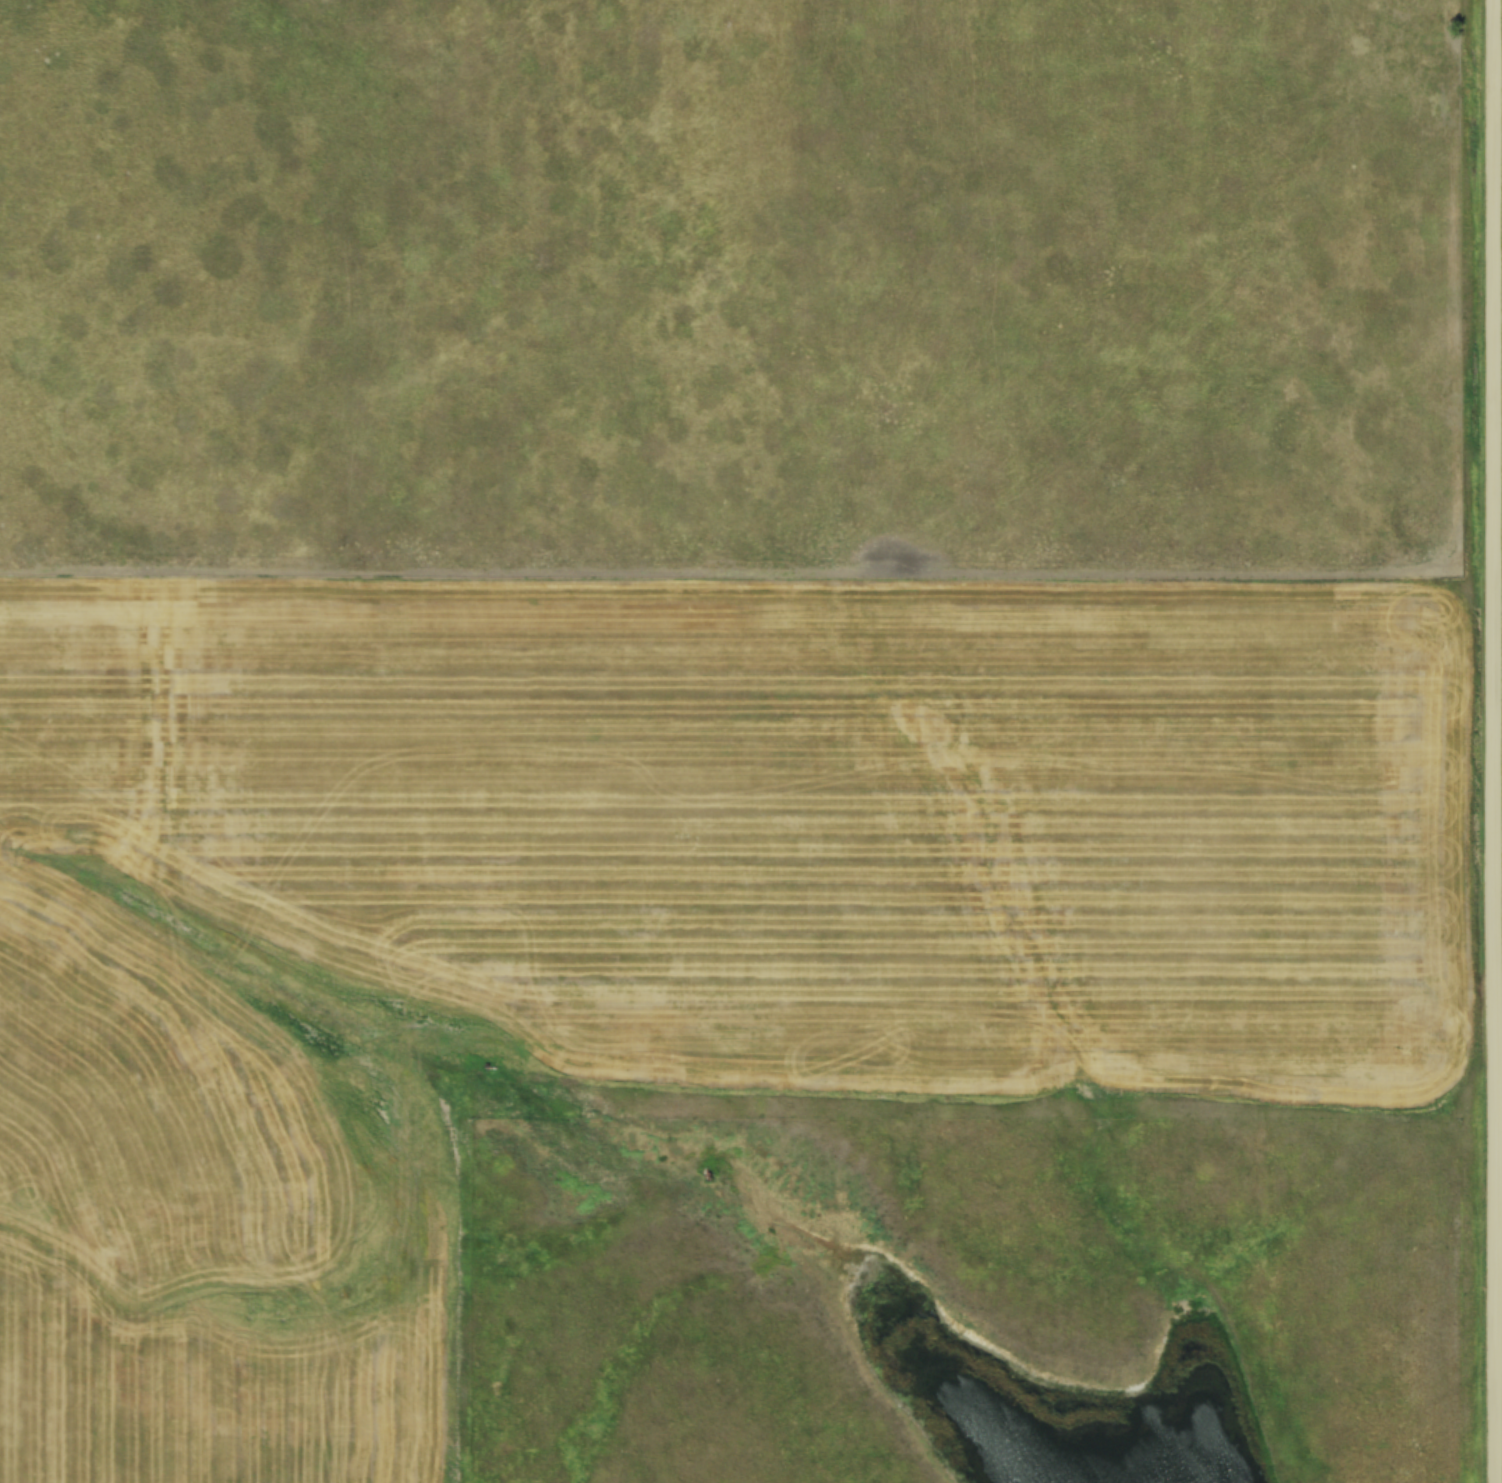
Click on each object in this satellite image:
road: (1489, 741)

